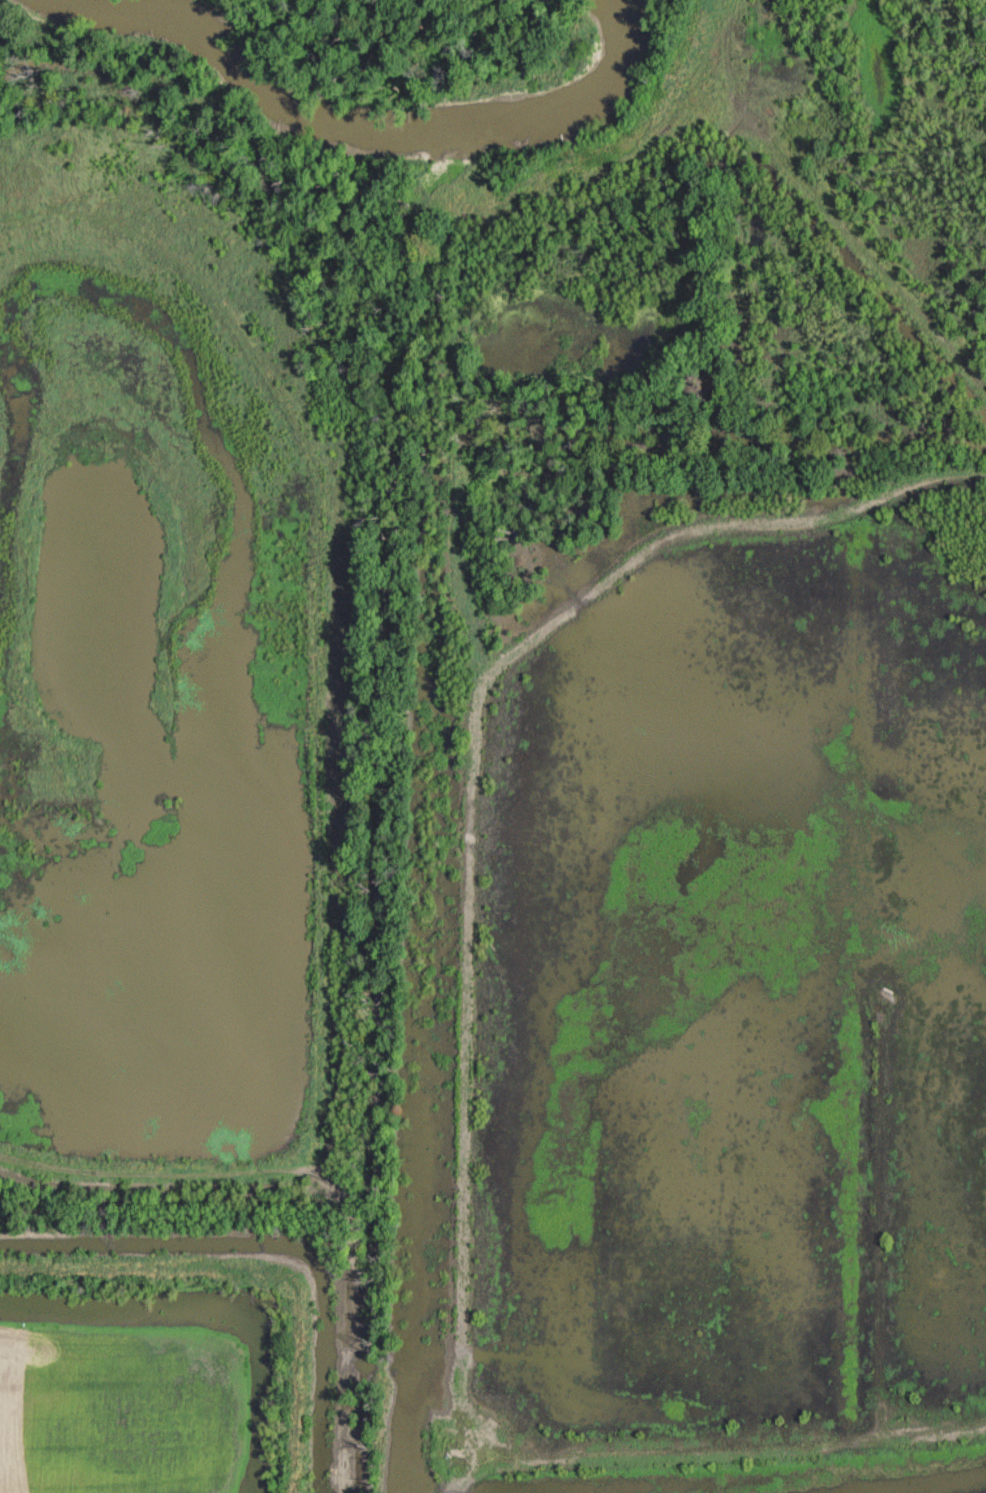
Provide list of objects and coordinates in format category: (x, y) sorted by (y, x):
road: (472, 809)
road: (319, 1182)
road: (736, 1450)

